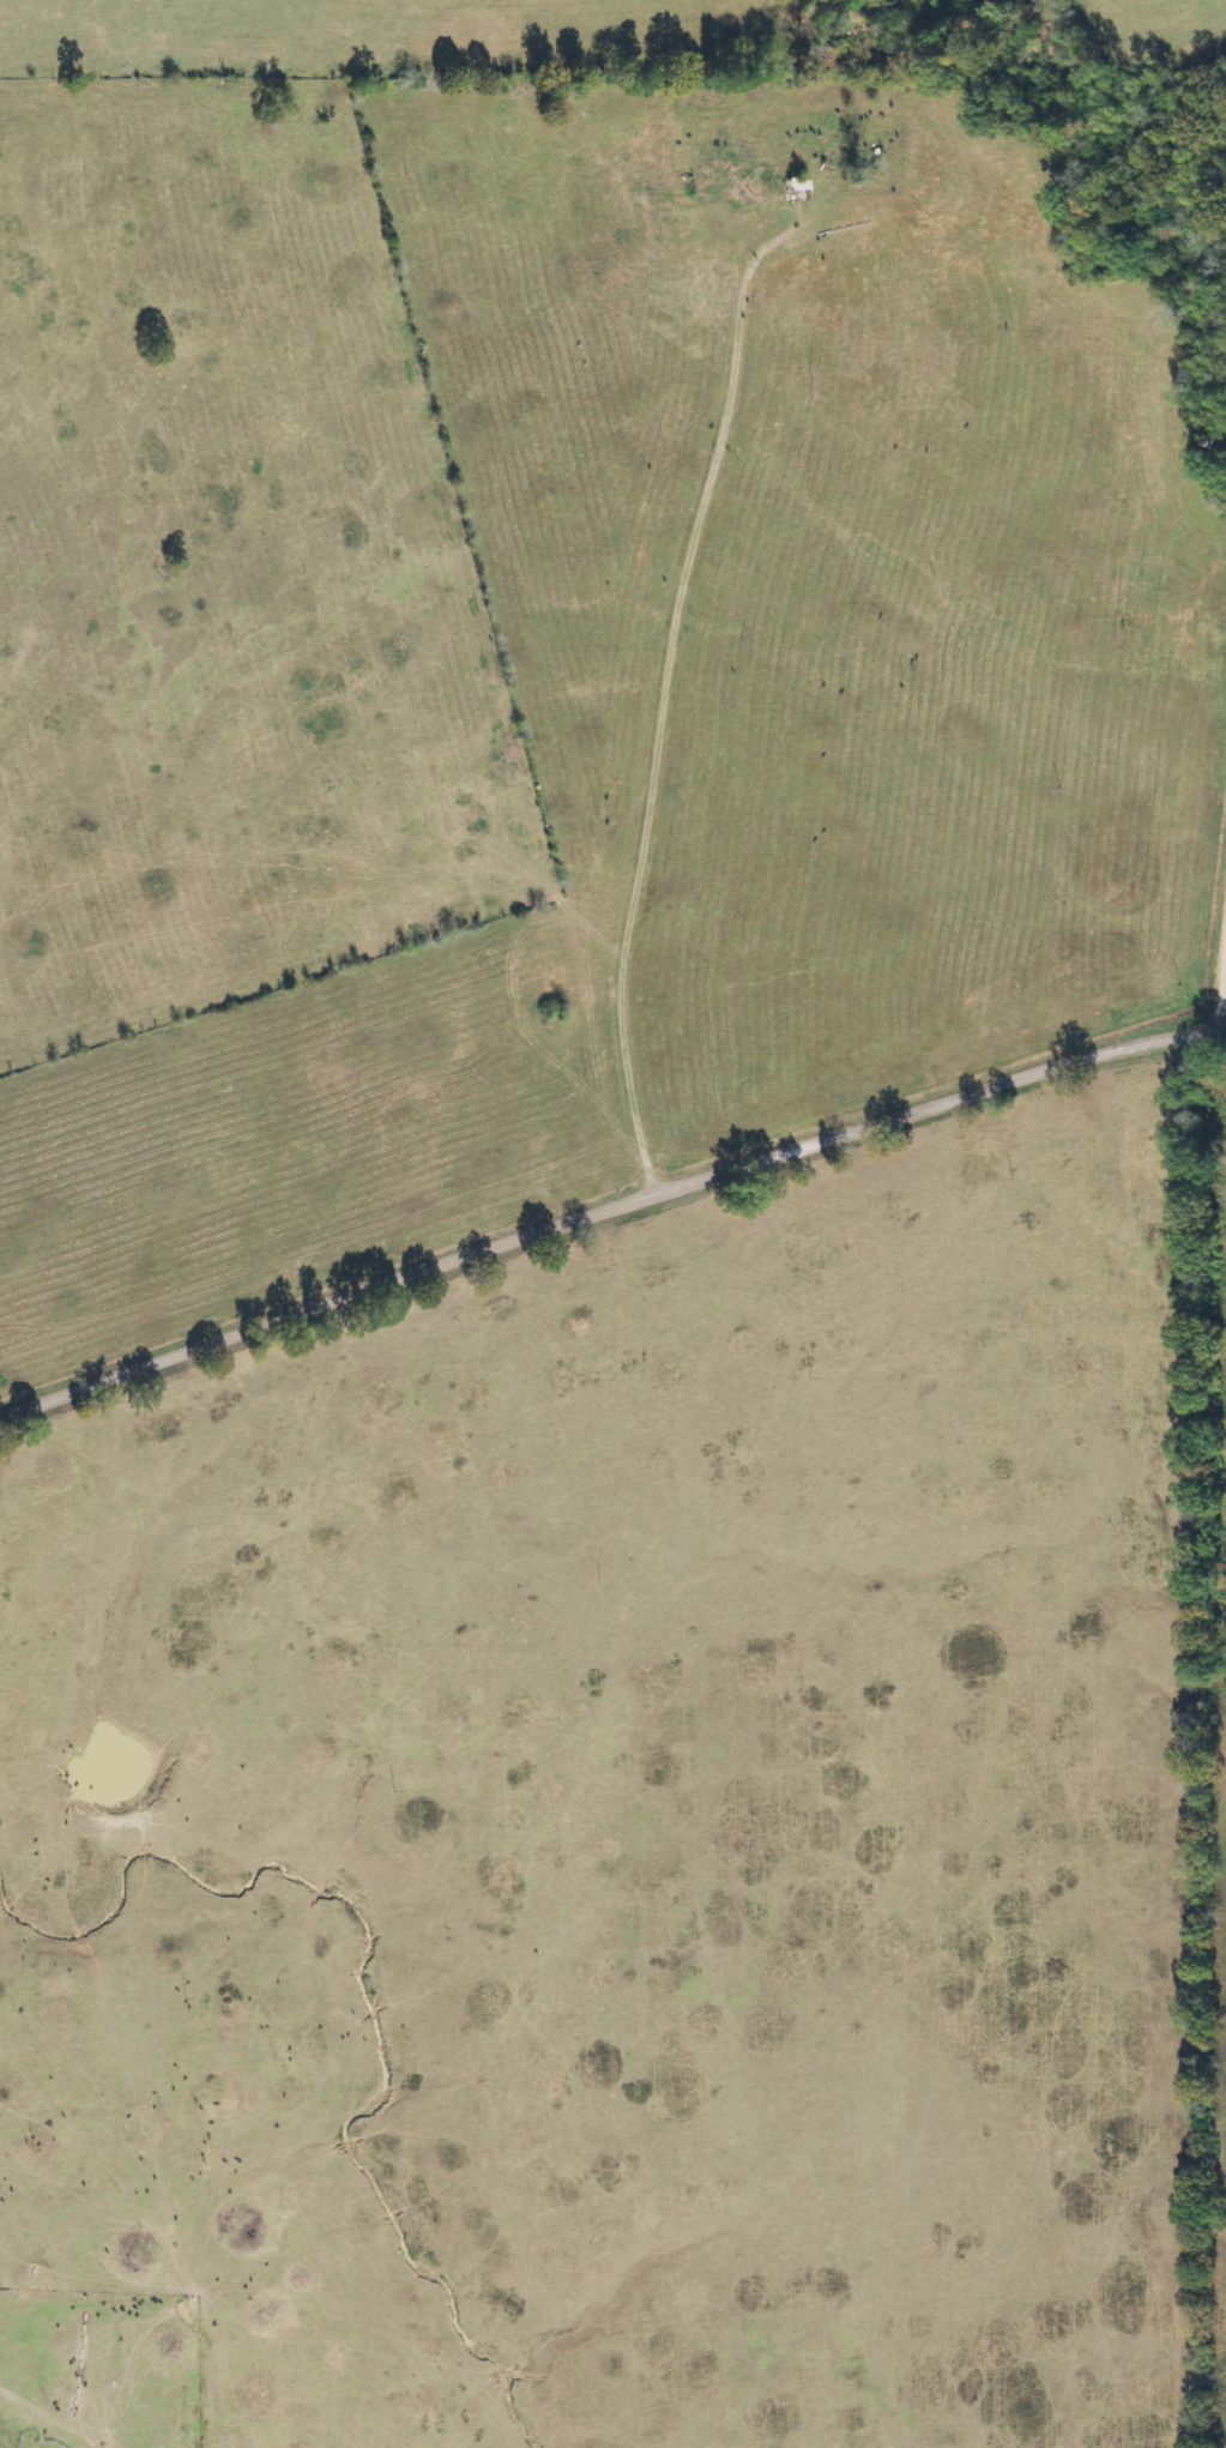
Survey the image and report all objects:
road: (610, 1219)

